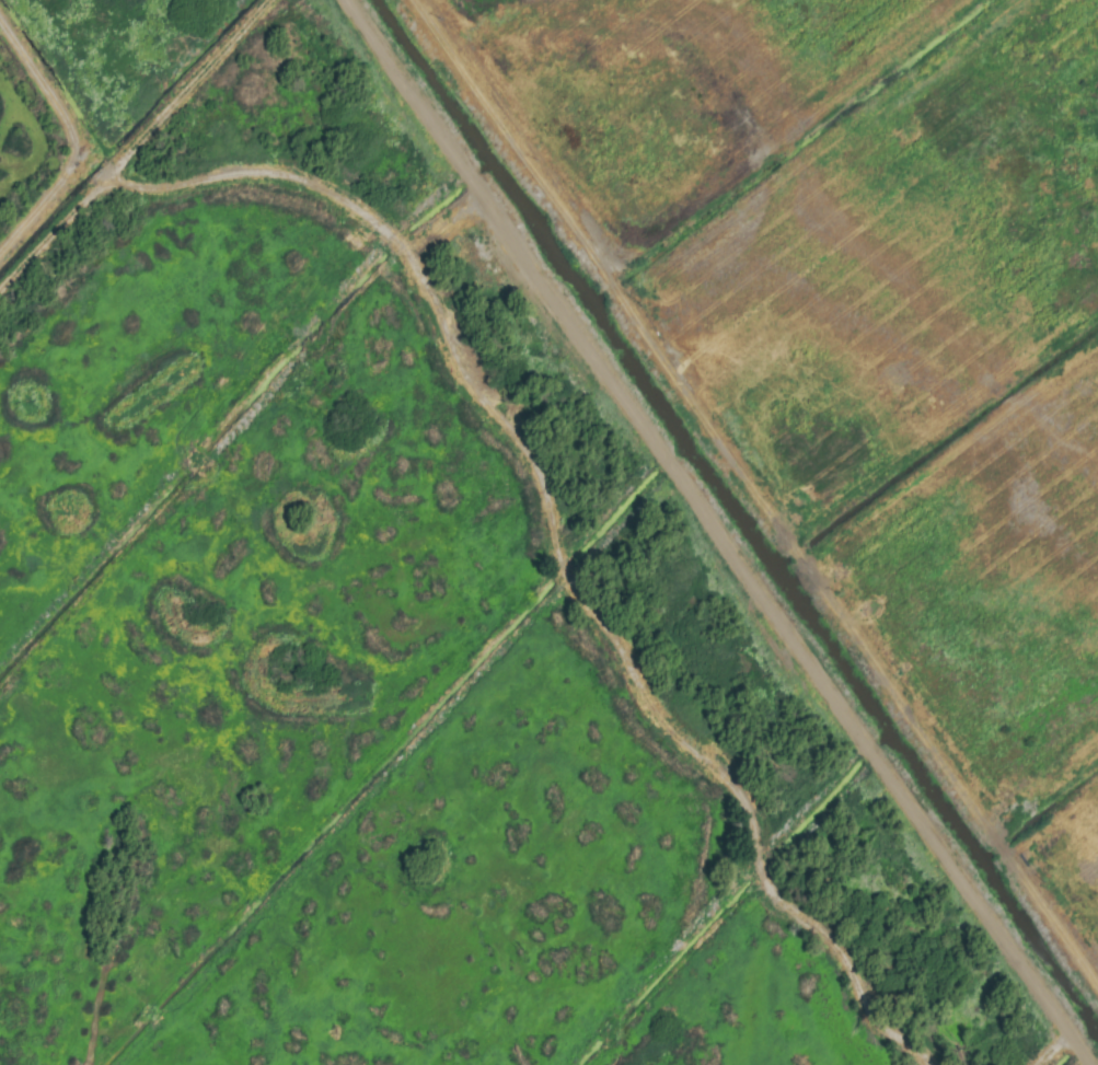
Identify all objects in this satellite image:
crop: (548, 532)

